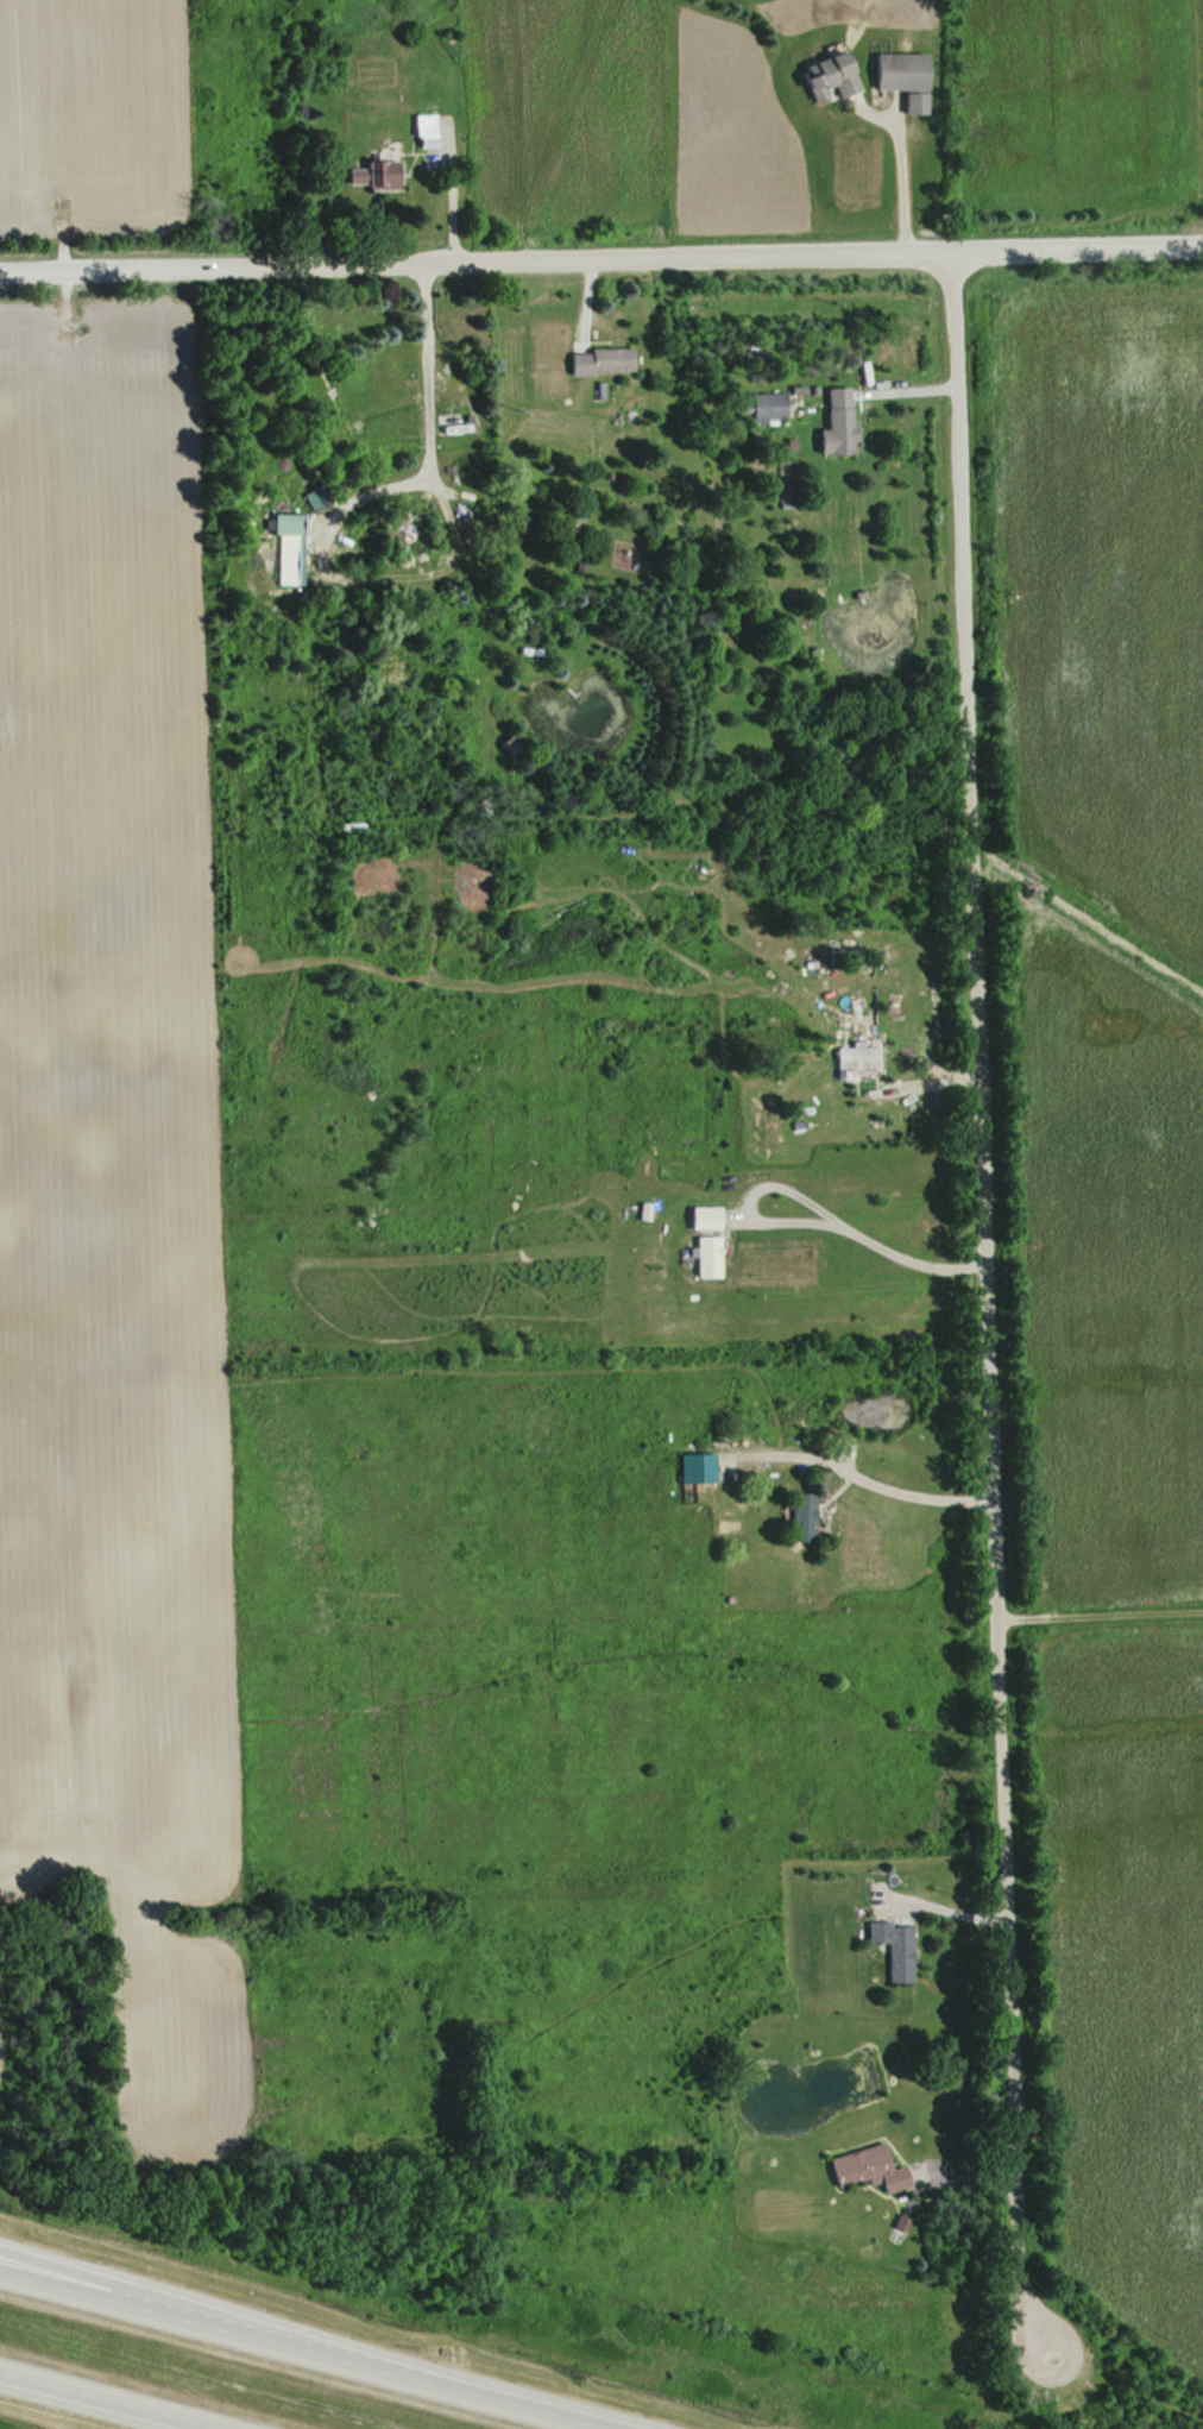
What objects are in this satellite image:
building: (820, 76)
building: (896, 77)
building: (420, 131)
building: (367, 170)
road: (905, 182)
road: (601, 253)
building: (594, 360)
building: (389, 380)
building: (763, 409)
building: (831, 422)
building: (437, 426)
building: (284, 548)
building: (849, 1059)
road: (806, 1214)
building: (699, 1256)
road: (991, 1303)
building: (691, 1467)
road: (919, 1497)
building: (794, 1516)
road: (950, 1907)
building: (889, 1949)
building: (861, 2167)
road: (51, 2270)
road: (316, 2343)
road: (114, 2399)

